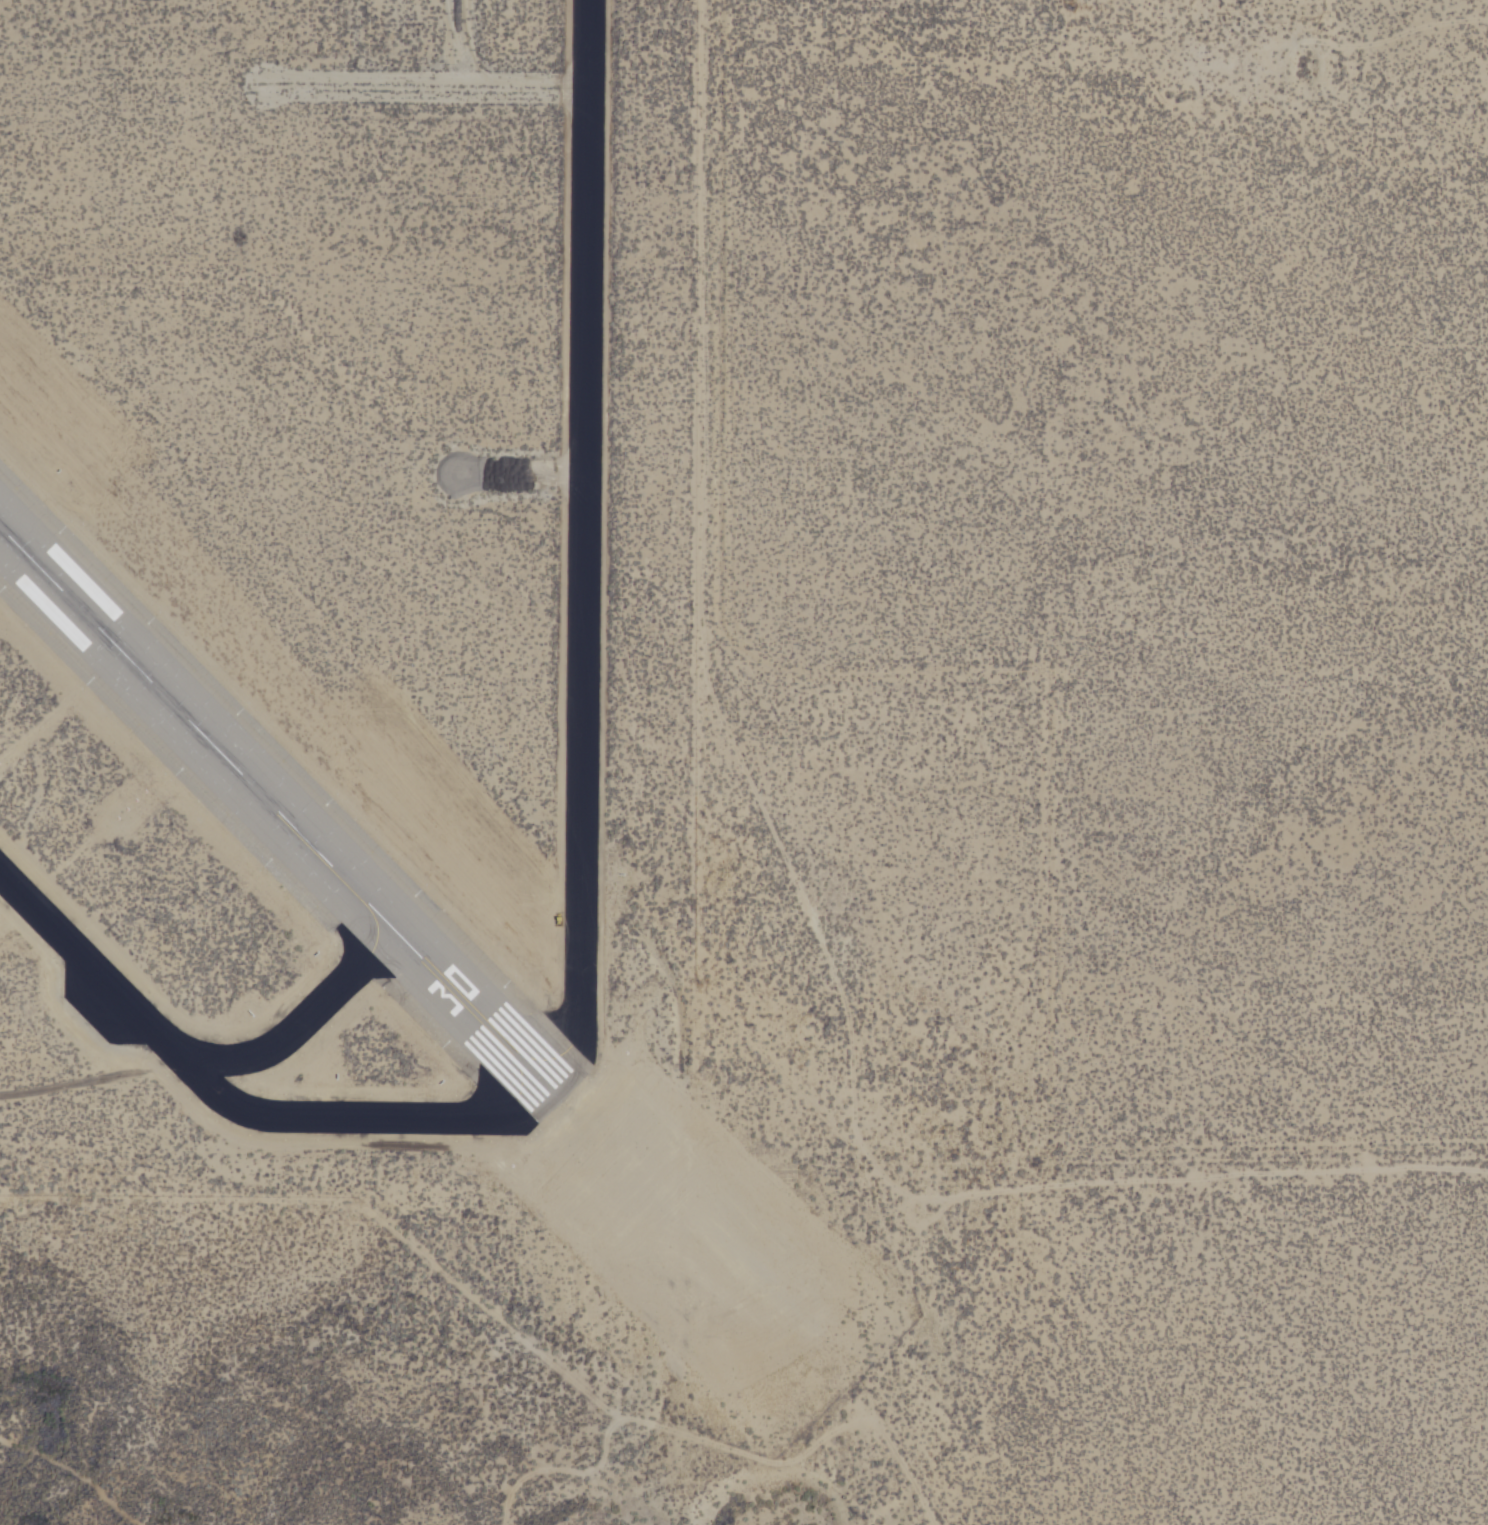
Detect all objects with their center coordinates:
airport: (395, 678)
airport runway: (283, 813)
airport taxiway: (579, 859)
road: (722, 1445)

